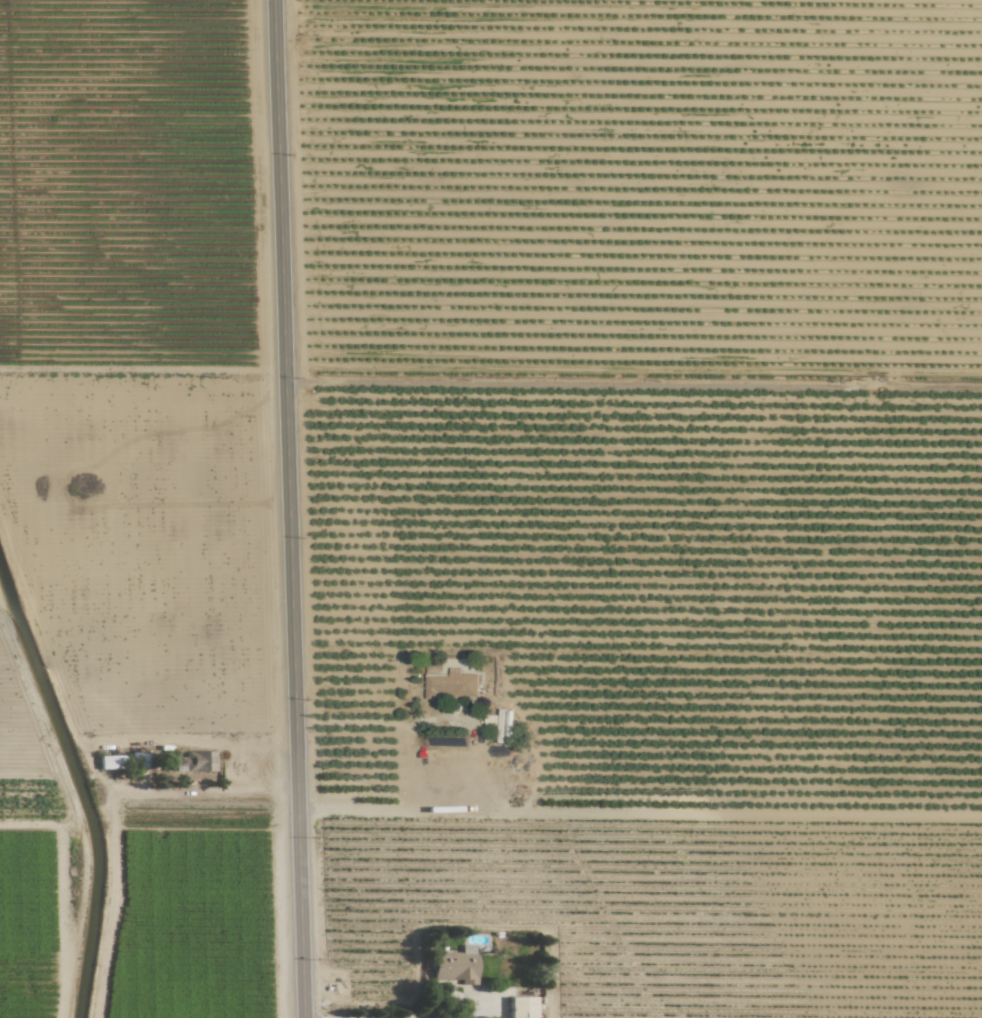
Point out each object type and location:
road: (289, 509)
building: (452, 684)
road: (385, 720)
building: (197, 760)
building: (111, 762)
road: (192, 792)
building: (456, 965)
road: (448, 996)
building: (522, 1007)

